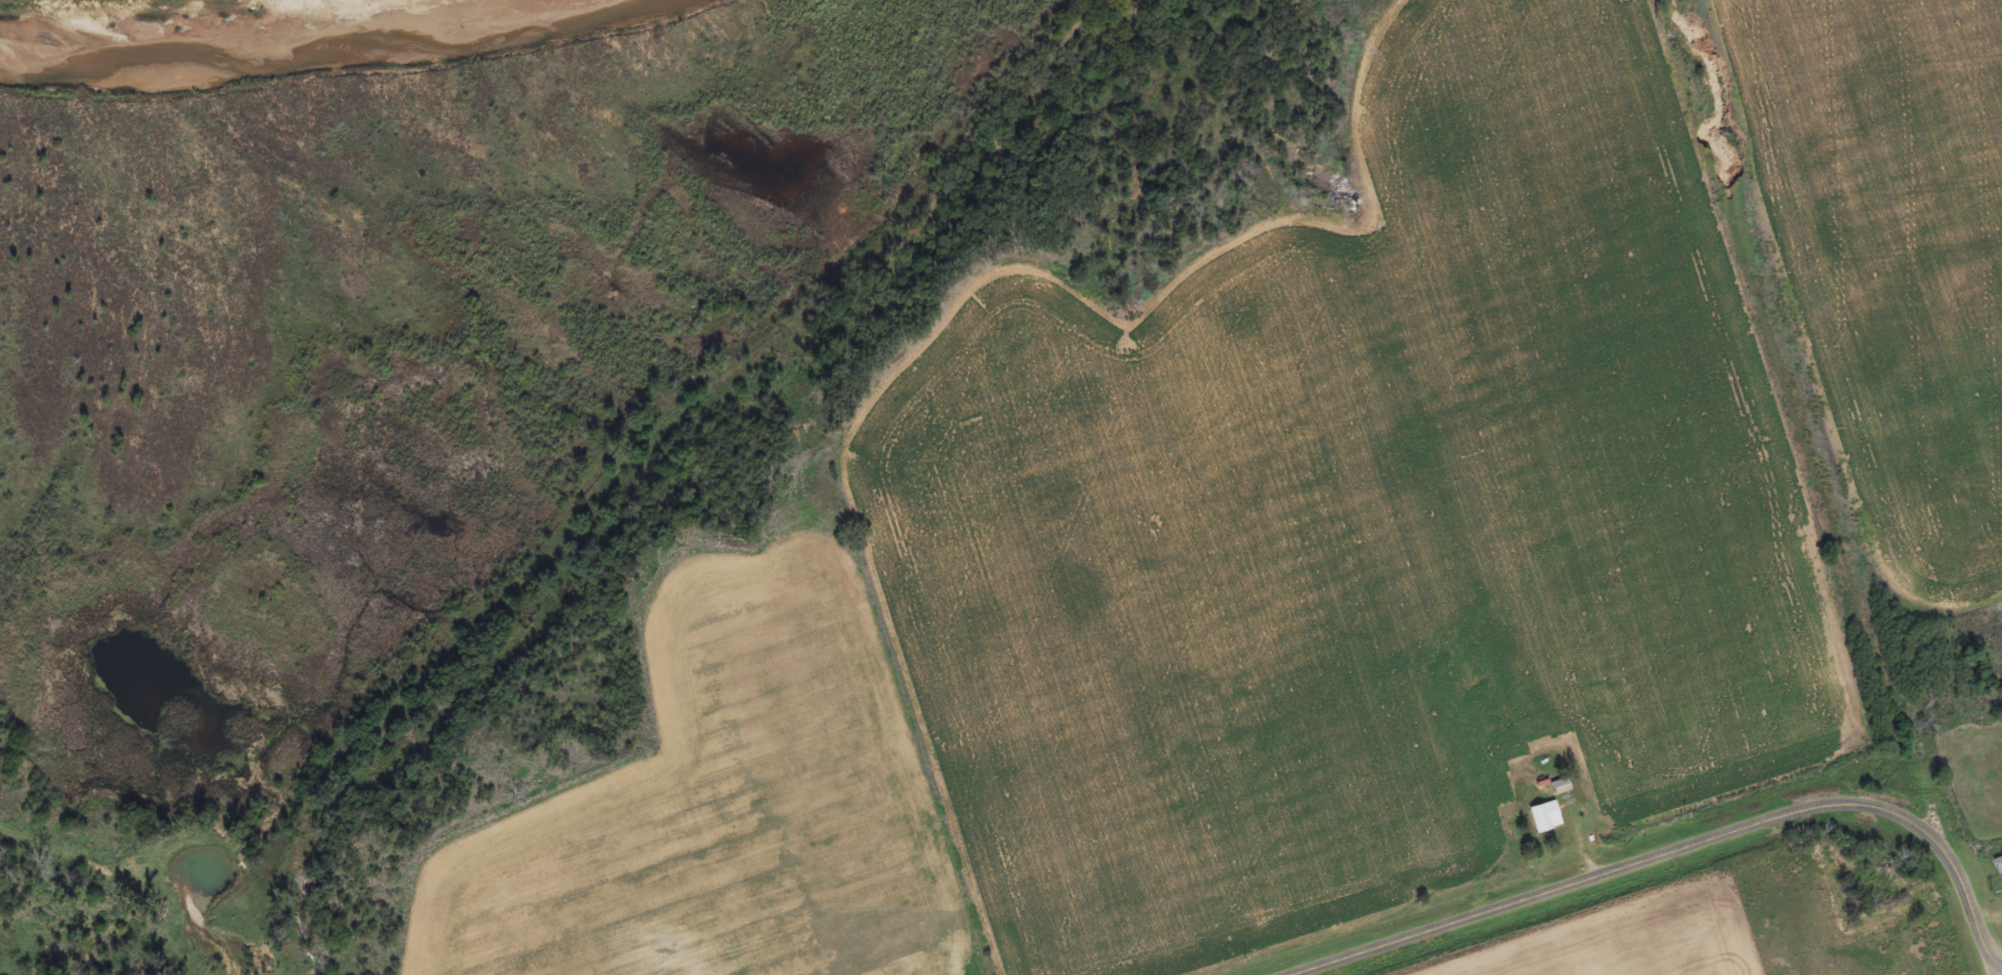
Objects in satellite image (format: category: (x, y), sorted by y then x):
river: (219, 51)
building: (1562, 788)
building: (1548, 818)
road: (1687, 847)
building: (1999, 867)
road: (1997, 968)

